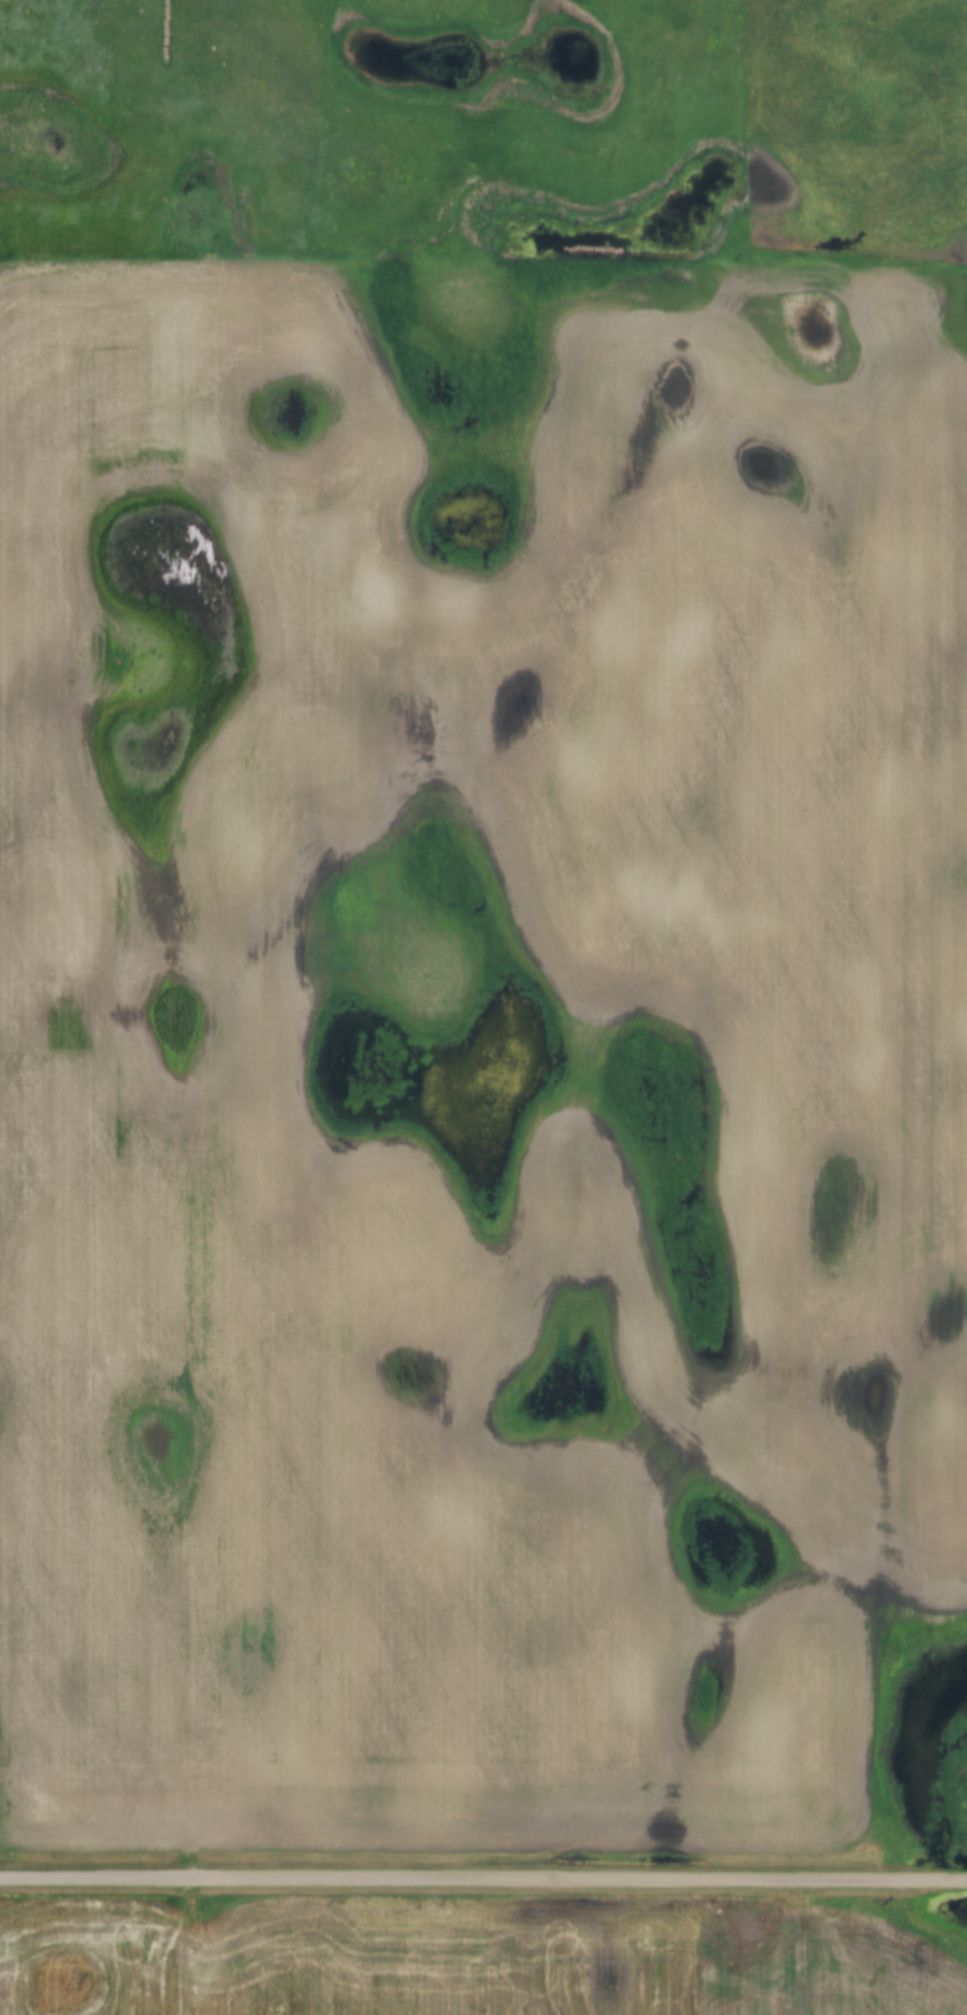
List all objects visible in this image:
road: (483, 1877)

